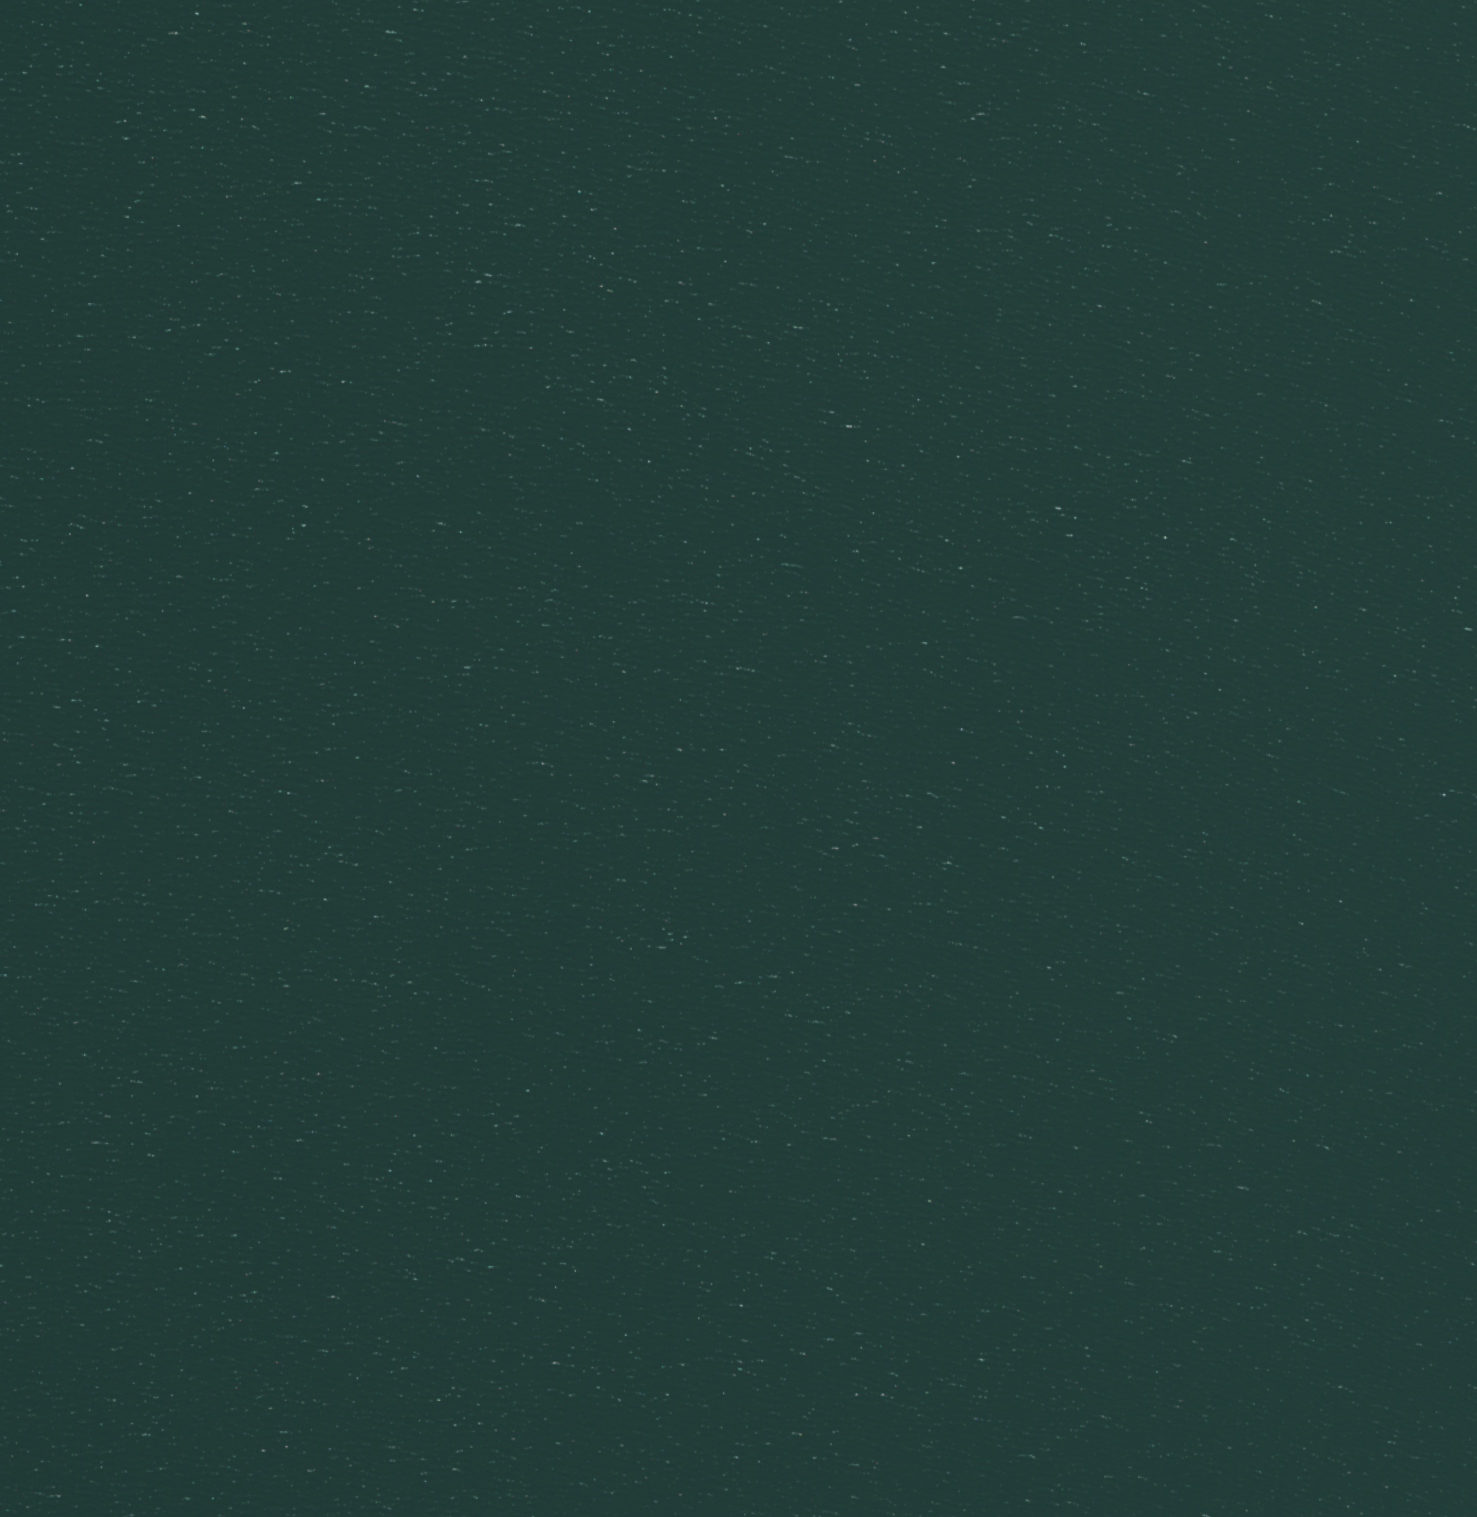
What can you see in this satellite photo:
river: (1431, 1456)

